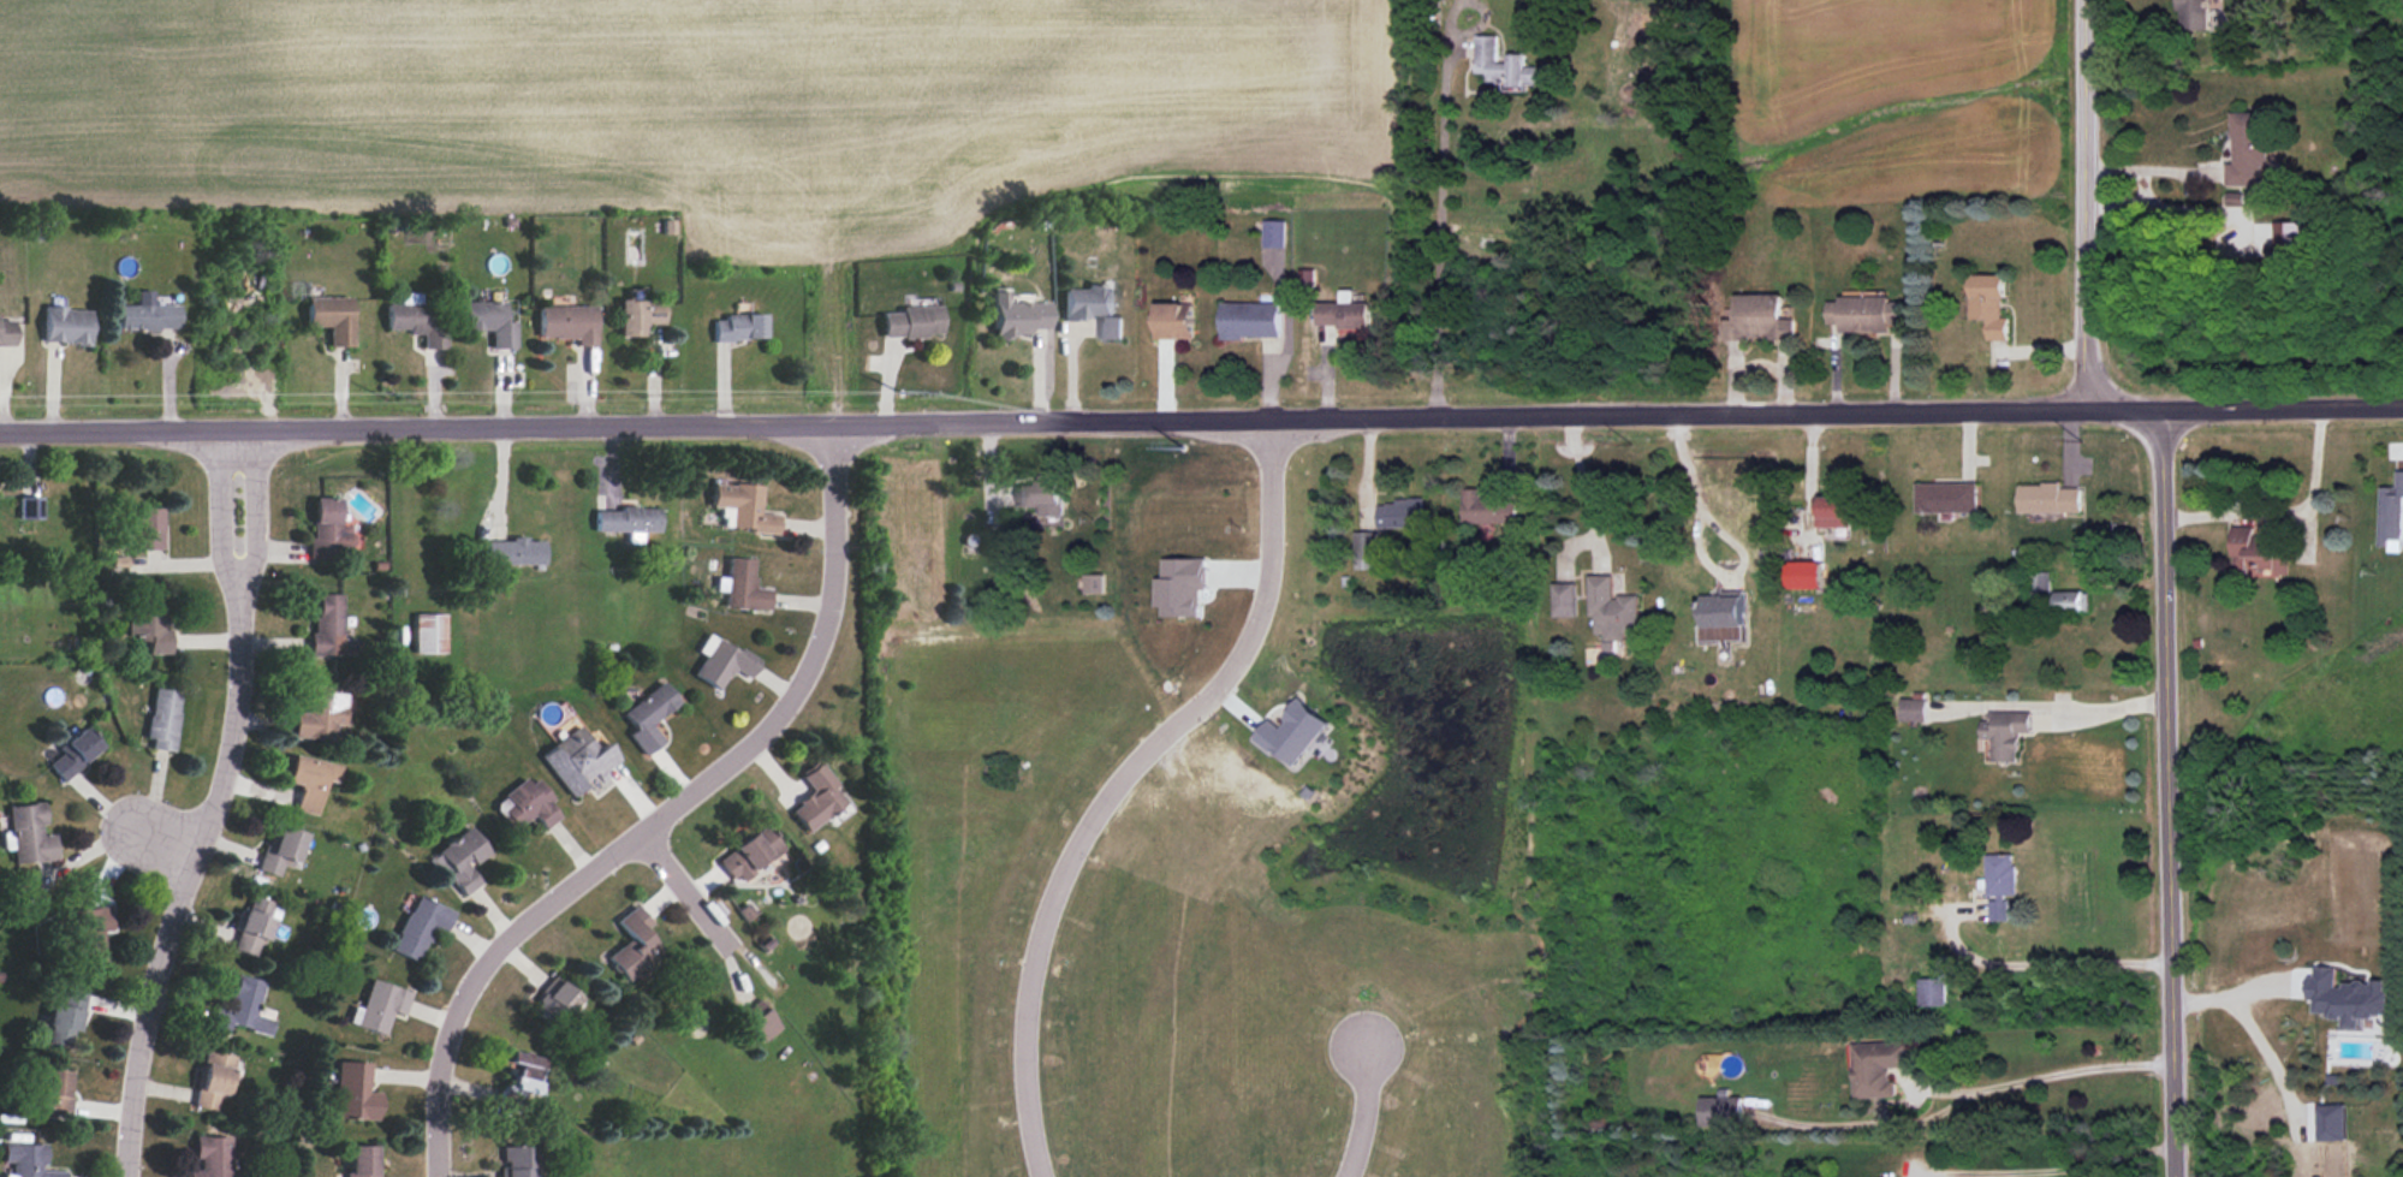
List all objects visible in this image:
building: (2193, 13)
building: (1503, 64)
crop: (1895, 82)
crop: (691, 107)
building: (2243, 150)
road: (2151, 170)
road: (2129, 203)
road: (2086, 207)
road: (1441, 231)
building: (1274, 236)
building: (2288, 238)
building: (1979, 302)
building: (1089, 305)
building: (1860, 305)
building: (1010, 311)
building: (1334, 313)
building: (1243, 314)
building: (326, 315)
building: (631, 315)
building: (147, 316)
building: (1749, 316)
building: (908, 317)
building: (486, 320)
building: (412, 321)
building: (1171, 321)
building: (563, 322)
building: (732, 322)
building: (64, 325)
building: (5, 332)
road: (1201, 421)
road: (1584, 489)
building: (2047, 493)
building: (1941, 495)
building: (1035, 499)
road: (251, 503)
road: (225, 504)
building: (739, 505)
building: (28, 507)
building: (1488, 509)
building: (1394, 510)
building: (2387, 510)
building: (1834, 511)
road: (2286, 515)
building: (623, 518)
building: (144, 528)
building: (326, 531)
building: (1361, 543)
road: (1696, 548)
building: (507, 549)
building: (2259, 551)
building: (1802, 573)
building: (737, 582)
building: (1173, 582)
building: (1094, 583)
building: (2042, 585)
building: (1560, 596)
building: (2074, 600)
building: (1604, 606)
building: (1713, 611)
building: (145, 624)
building: (327, 625)
building: (428, 634)
building: (719, 661)
building: (1915, 709)
building: (316, 711)
building: (642, 711)
road: (2100, 711)
building: (161, 717)
building: (1997, 733)
building: (72, 751)
building: (575, 756)
building: (310, 781)
road: (1119, 783)
road: (2169, 795)
building: (521, 797)
building: (813, 797)
road: (664, 814)
building: (26, 836)
road: (160, 842)
building: (276, 850)
building: (743, 850)
building: (457, 856)
road: (185, 870)
building: (2001, 884)
road: (688, 890)
building: (412, 923)
building: (249, 927)
building: (83, 934)
building: (629, 939)
road: (2042, 964)
building: (1933, 992)
building: (2347, 997)
building: (552, 999)
building: (375, 1003)
building: (239, 1007)
building: (64, 1017)
building: (751, 1020)
building: (1879, 1066)
road: (2052, 1075)
building: (511, 1077)
building: (213, 1078)
building: (352, 1090)
building: (53, 1093)
building: (1721, 1111)
road: (1369, 1112)
building: (2332, 1122)
building: (357, 1157)
building: (202, 1158)
building: (25, 1159)
building: (514, 1161)
road: (2052, 1170)

